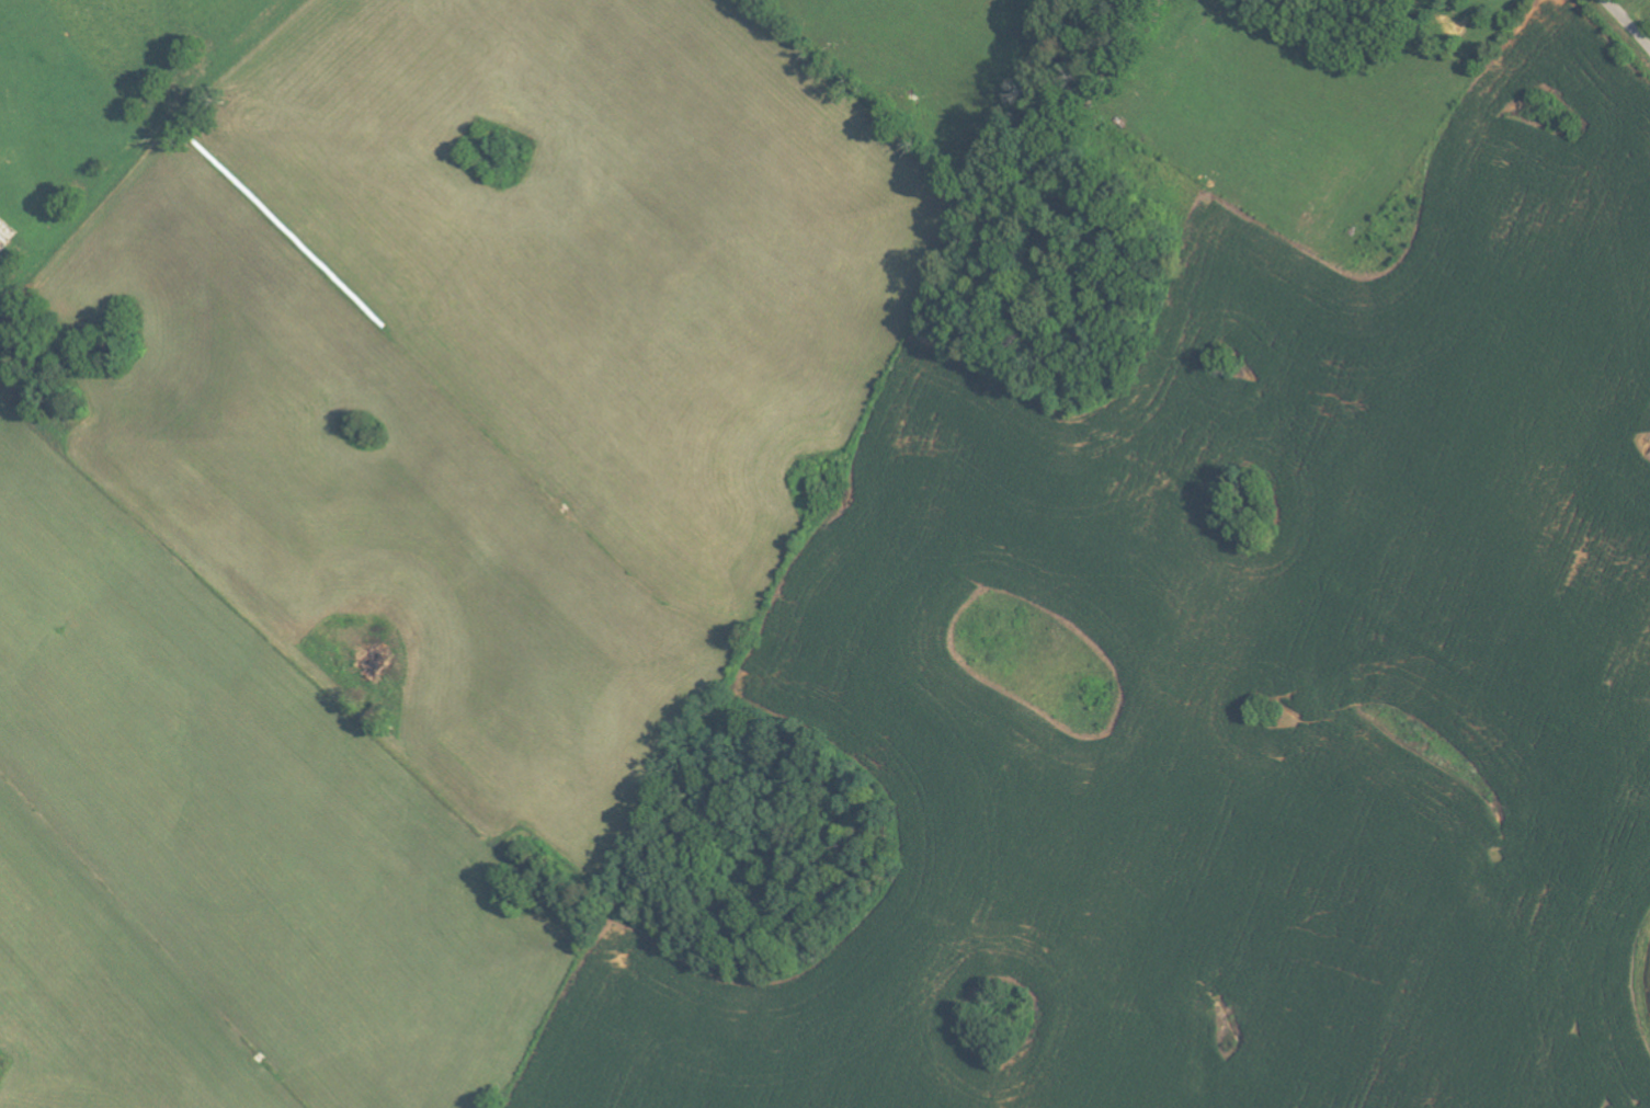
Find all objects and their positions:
road: (1627, 23)

